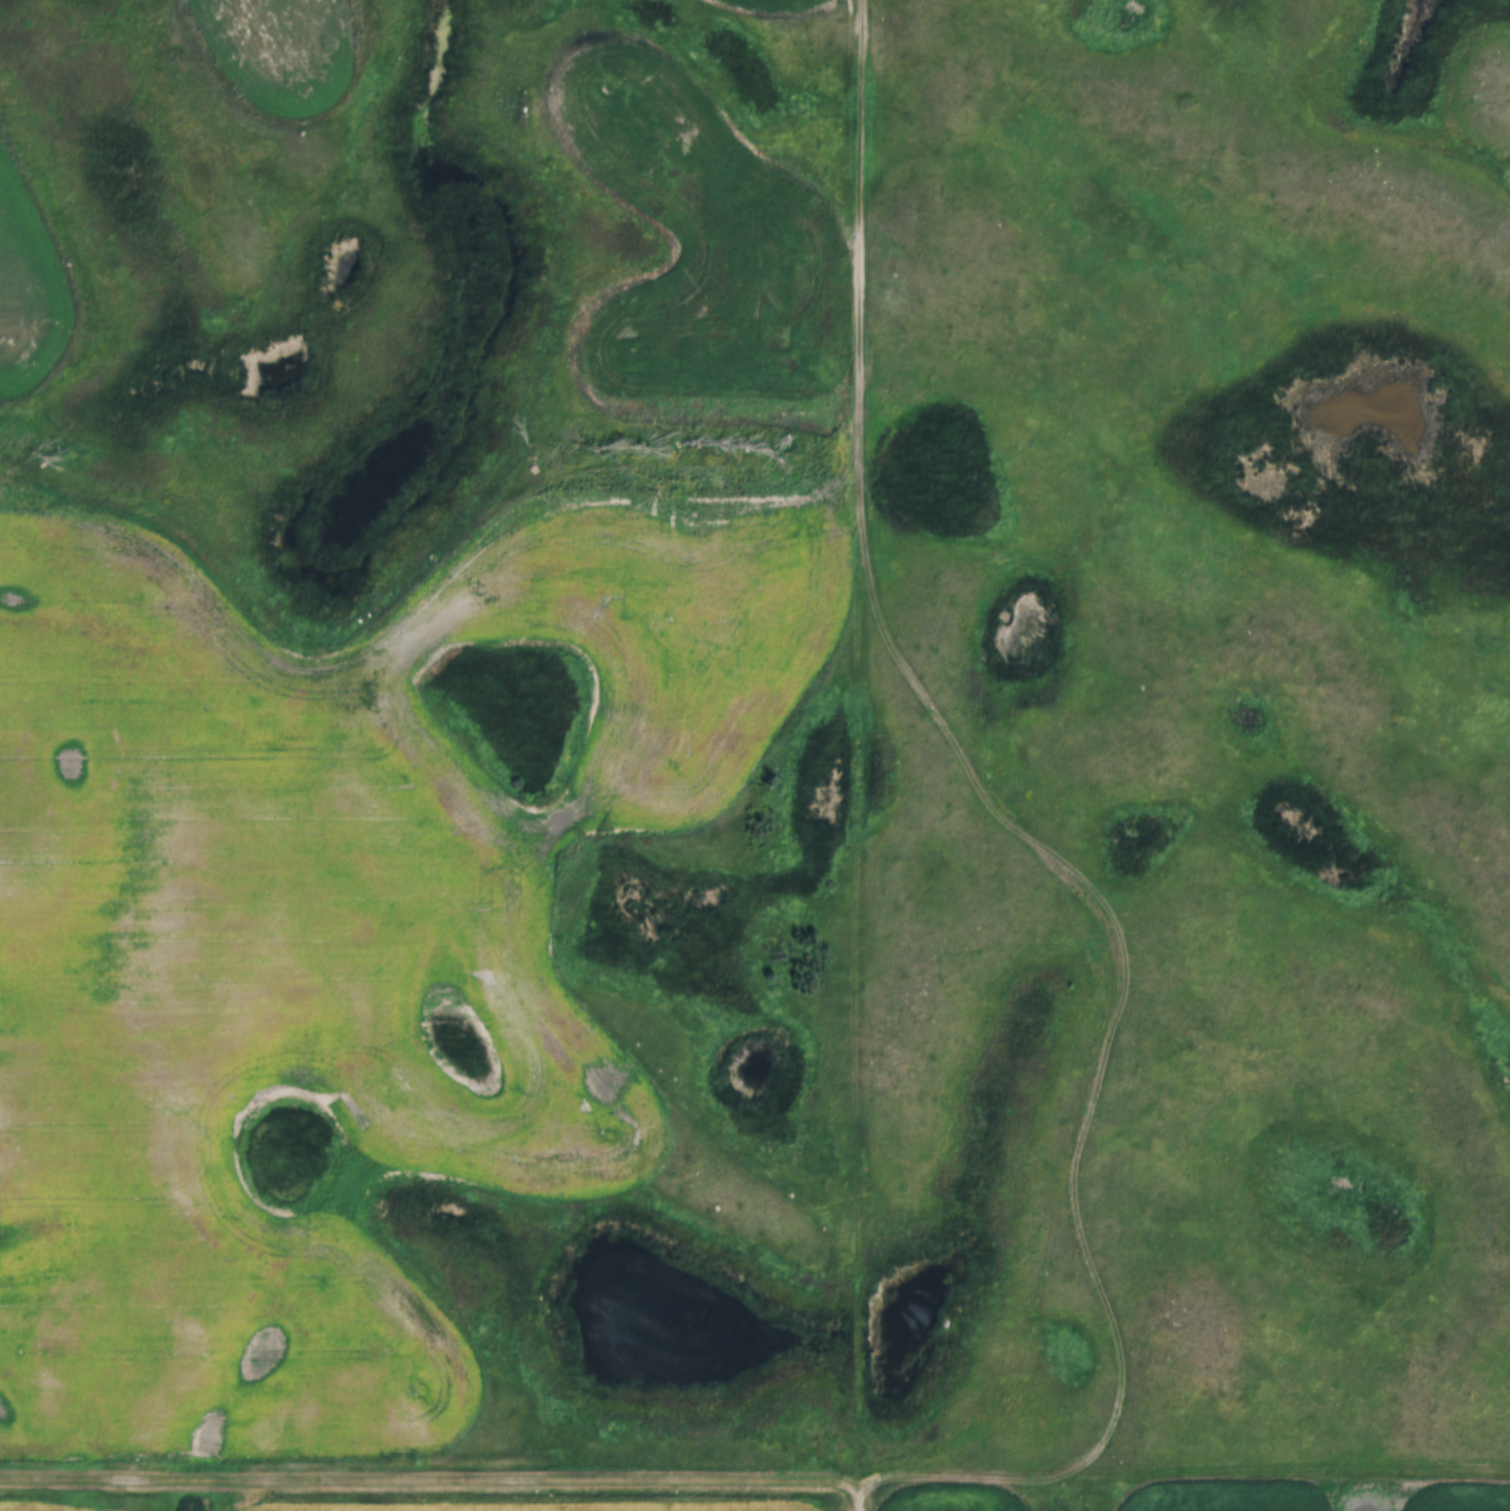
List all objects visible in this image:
road: (1003, 800)
road: (430, 1480)

